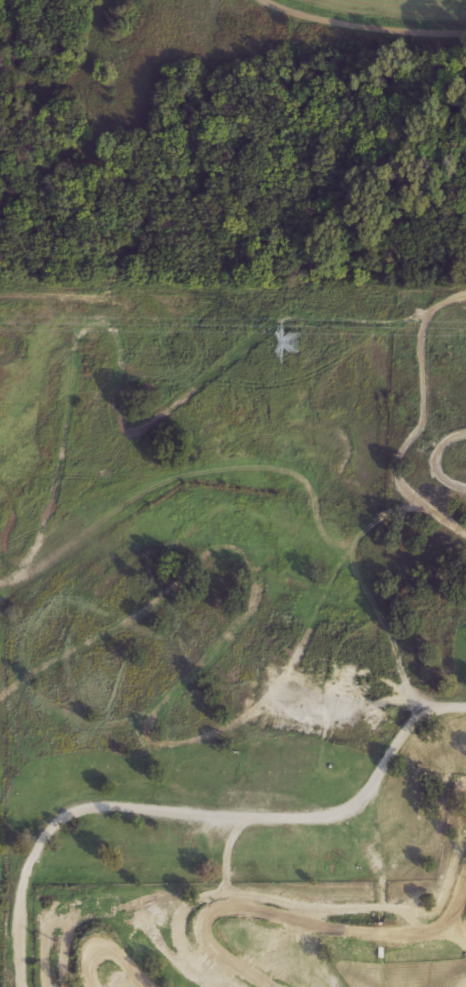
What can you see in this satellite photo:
road: (364, 21)
power tower: (291, 341)
road: (197, 815)

